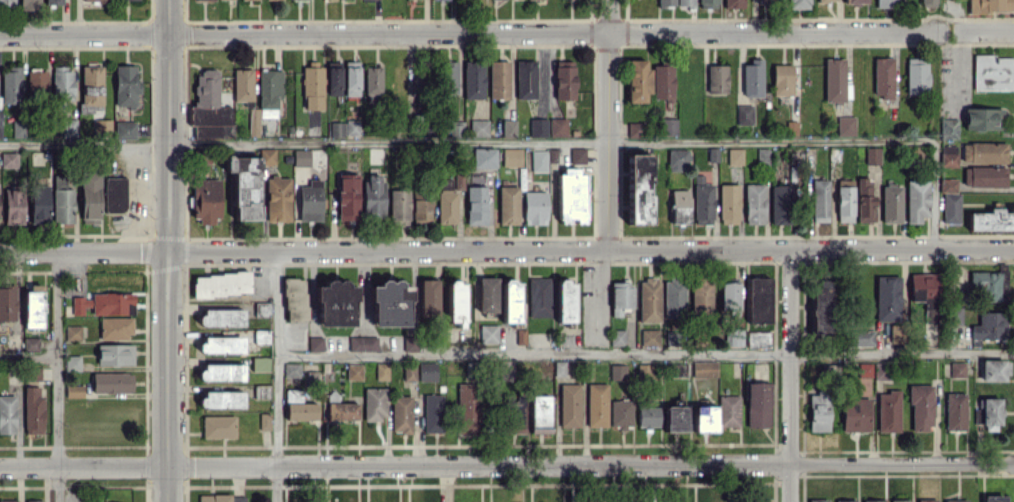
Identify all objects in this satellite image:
building: (6, 0)
building: (96, 0)
building: (202, 0)
building: (827, 0)
building: (766, 1)
building: (854, 1)
building: (52, 2)
building: (665, 2)
building: (685, 3)
building: (708, 3)
building: (733, 3)
building: (886, 3)
building: (927, 3)
building: (798, 4)
building: (29, 5)
building: (990, 6)
road: (985, 29)
road: (770, 30)
road: (303, 32)
building: (992, 72)
building: (916, 76)
building: (883, 77)
building: (333, 78)
building: (351, 78)
building: (451, 78)
building: (752, 78)
building: (473, 79)
building: (498, 79)
building: (525, 79)
building: (716, 79)
building: (782, 79)
building: (564, 80)
building: (637, 80)
building: (834, 80)
building: (36, 81)
building: (663, 82)
building: (62, 83)
building: (11, 85)
building: (91, 85)
building: (125, 85)
building: (312, 86)
building: (266, 98)
building: (209, 106)
building: (744, 114)
building: (983, 118)
road: (607, 123)
building: (0, 124)
building: (845, 125)
building: (557, 126)
building: (668, 126)
building: (68, 127)
building: (101, 127)
building: (478, 127)
building: (509, 127)
building: (538, 127)
building: (17, 128)
building: (343, 128)
building: (948, 128)
building: (635, 129)
building: (124, 130)
road: (466, 142)
building: (983, 152)
building: (577, 155)
building: (872, 155)
building: (511, 156)
building: (734, 156)
building: (762, 156)
building: (301, 157)
building: (483, 157)
building: (8, 159)
building: (946, 159)
building: (538, 160)
building: (679, 160)
building: (984, 176)
building: (458, 181)
building: (247, 182)
building: (947, 185)
building: (638, 189)
building: (114, 194)
building: (372, 194)
road: (932, 194)
building: (571, 195)
building: (347, 196)
building: (90, 197)
building: (278, 198)
building: (865, 199)
building: (205, 200)
building: (819, 200)
building: (844, 200)
building: (916, 200)
building: (62, 201)
building: (310, 201)
building: (702, 201)
building: (446, 202)
building: (39, 203)
building: (478, 203)
building: (728, 203)
building: (754, 203)
building: (891, 203)
building: (507, 204)
building: (780, 204)
building: (399, 206)
building: (679, 206)
building: (13, 207)
building: (534, 207)
building: (951, 208)
building: (421, 211)
building: (992, 219)
road: (506, 248)
road: (166, 250)
building: (220, 284)
building: (989, 284)
building: (923, 286)
building: (487, 294)
building: (539, 296)
building: (701, 296)
building: (428, 297)
building: (620, 297)
building: (673, 298)
building: (729, 298)
building: (887, 298)
building: (294, 299)
building: (648, 300)
building: (758, 300)
building: (510, 301)
building: (565, 301)
building: (455, 302)
building: (7, 303)
building: (105, 303)
building: (390, 303)
building: (335, 304)
building: (32, 306)
building: (821, 310)
building: (221, 317)
building: (929, 321)
building: (989, 326)
building: (115, 328)
building: (72, 332)
building: (488, 333)
building: (616, 337)
building: (649, 337)
building: (670, 337)
building: (734, 337)
building: (862, 338)
building: (758, 339)
building: (315, 343)
building: (362, 343)
building: (409, 343)
building: (30, 344)
building: (221, 345)
road: (27, 354)
building: (114, 354)
road: (644, 356)
building: (72, 363)
building: (704, 368)
building: (291, 369)
building: (678, 369)
building: (957, 369)
building: (381, 370)
building: (992, 370)
building: (354, 371)
building: (427, 371)
building: (865, 371)
building: (221, 372)
building: (408, 372)
building: (617, 372)
building: (34, 374)
road: (789, 374)
road: (54, 376)
road: (275, 376)
building: (111, 382)
building: (74, 390)
building: (221, 399)
building: (374, 403)
building: (758, 404)
building: (569, 405)
building: (596, 405)
building: (920, 407)
building: (467, 408)
building: (33, 410)
building: (300, 410)
building: (728, 410)
building: (818, 410)
building: (342, 411)
building: (888, 411)
building: (955, 411)
building: (987, 411)
building: (432, 413)
building: (620, 413)
building: (7, 414)
building: (401, 414)
building: (539, 414)
building: (855, 414)
building: (515, 416)
building: (647, 416)
building: (674, 418)
building: (704, 418)
building: (264, 421)
building: (218, 426)
road: (506, 465)
building: (221, 498)
building: (993, 498)
building: (818, 500)
building: (845, 500)
building: (872, 500)
building: (899, 500)
building: (926, 500)
building: (955, 500)
building: (8, 501)
building: (33, 501)

